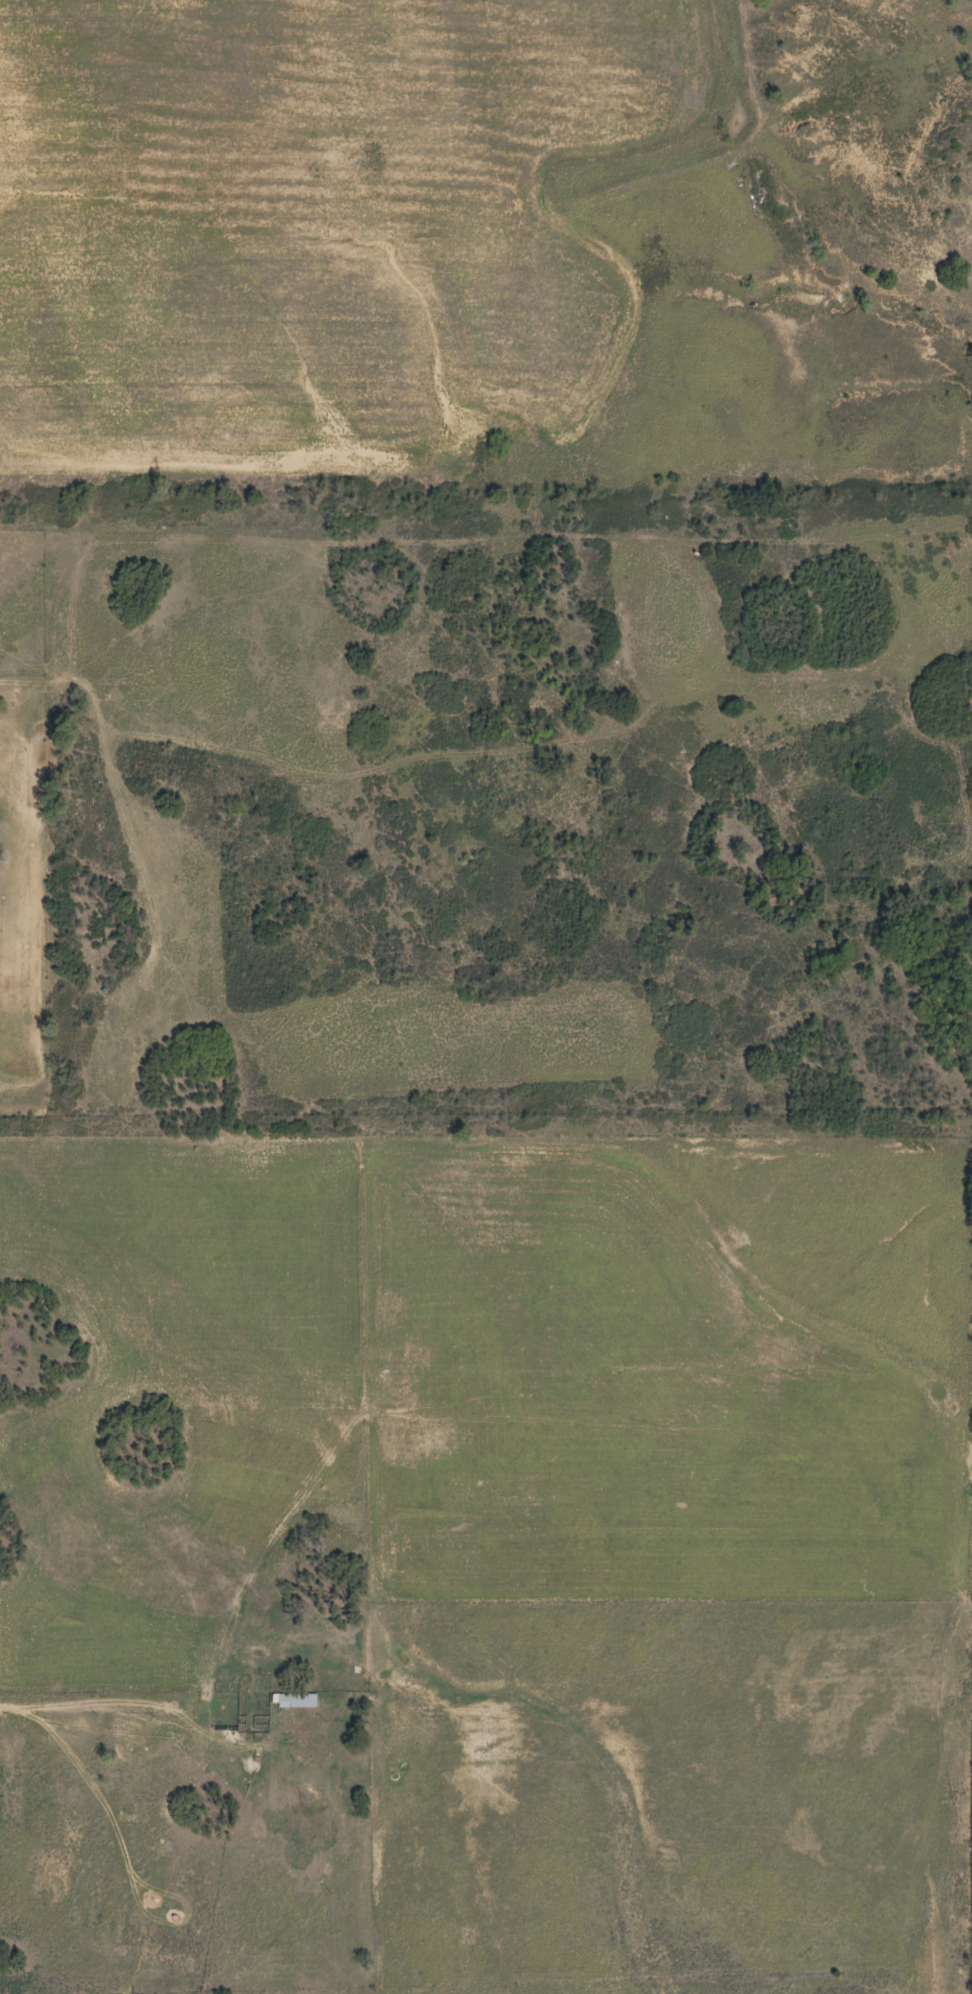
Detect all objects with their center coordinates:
building: (293, 1699)

